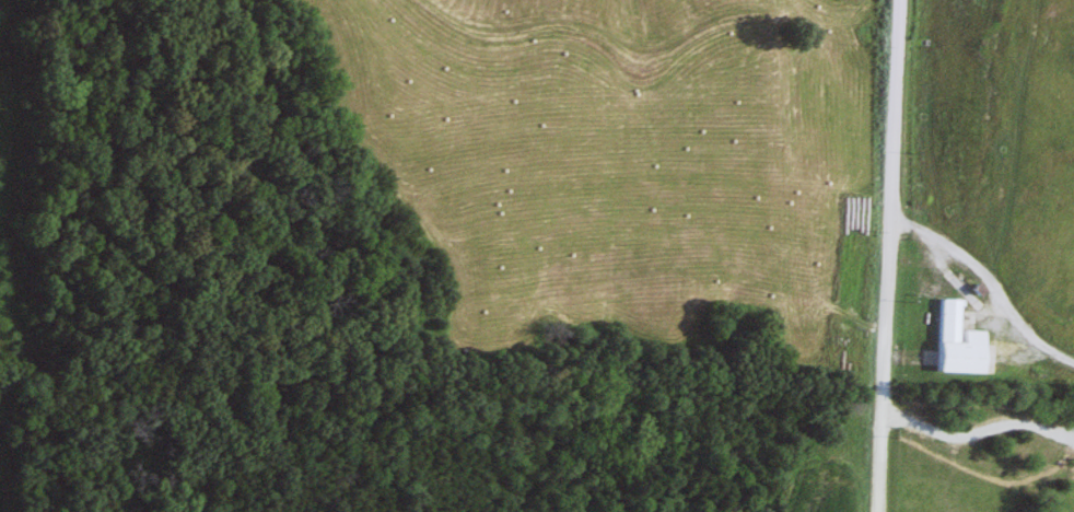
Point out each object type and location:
road: (883, 255)
road: (984, 282)
building: (950, 342)
road: (976, 432)

